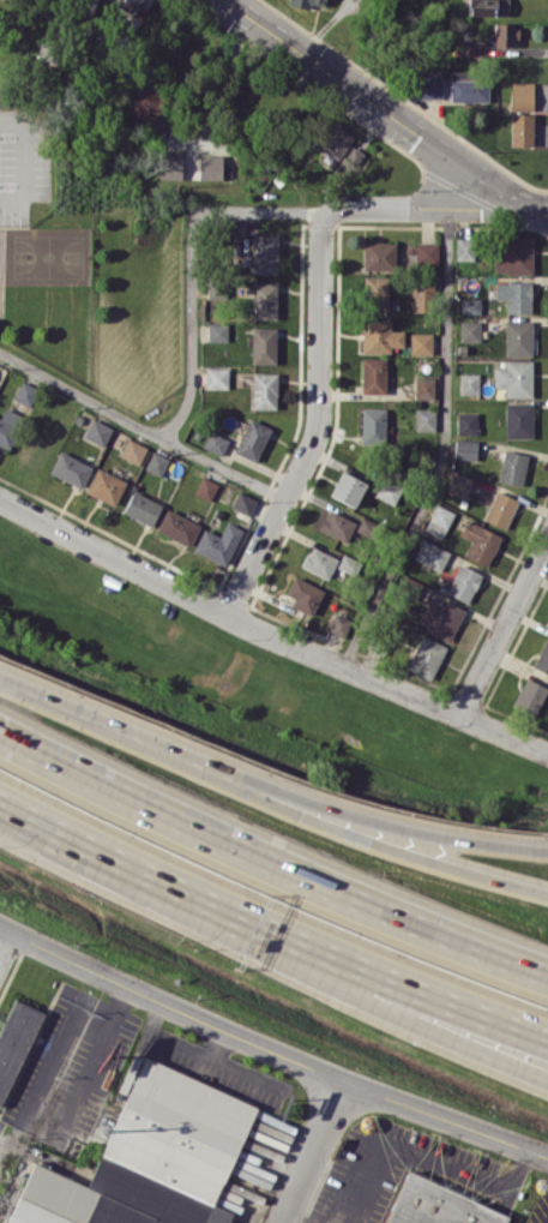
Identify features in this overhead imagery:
building: (303, 2)
building: (126, 5)
building: (488, 7)
building: (500, 35)
building: (427, 84)
building: (468, 86)
building: (520, 95)
building: (146, 101)
road: (374, 104)
building: (520, 128)
building: (330, 138)
road: (28, 155)
building: (353, 155)
building: (169, 166)
building: (210, 166)
road: (426, 206)
road: (536, 209)
road: (536, 217)
building: (464, 247)
building: (427, 252)
building: (264, 253)
building: (378, 254)
building: (513, 254)
park: (46, 256)
road: (193, 259)
building: (375, 293)
building: (514, 295)
building: (421, 296)
building: (264, 300)
building: (470, 305)
building: (469, 330)
building: (217, 331)
building: (380, 336)
building: (518, 337)
building: (421, 342)
building: (263, 344)
building: (373, 374)
building: (216, 377)
building: (514, 377)
building: (469, 383)
building: (424, 388)
building: (264, 390)
building: (25, 392)
building: (424, 419)
building: (518, 419)
road: (318, 422)
building: (466, 422)
building: (373, 425)
building: (8, 426)
road: (140, 427)
building: (97, 431)
building: (252, 439)
building: (215, 442)
road: (445, 448)
building: (465, 448)
building: (133, 450)
building: (156, 462)
building: (512, 467)
building: (70, 468)
building: (459, 484)
building: (106, 485)
building: (205, 487)
building: (347, 487)
building: (243, 502)
building: (141, 508)
building: (500, 509)
building: (439, 520)
building: (338, 526)
building: (177, 527)
building: (480, 541)
building: (218, 542)
building: (430, 553)
building: (319, 562)
building: (348, 564)
building: (463, 582)
building: (303, 594)
building: (440, 617)
building: (338, 624)
road: (504, 627)
road: (269, 635)
building: (426, 657)
building: (542, 657)
building: (529, 696)
road: (267, 784)
road: (319, 820)
road: (49, 827)
road: (270, 861)
road: (6, 942)
road: (321, 948)
road: (317, 978)
building: (14, 1041)
road: (270, 1048)
road: (91, 1051)
road: (312, 1151)
road: (412, 1153)
building: (149, 1158)
building: (444, 1200)
road: (293, 1218)

